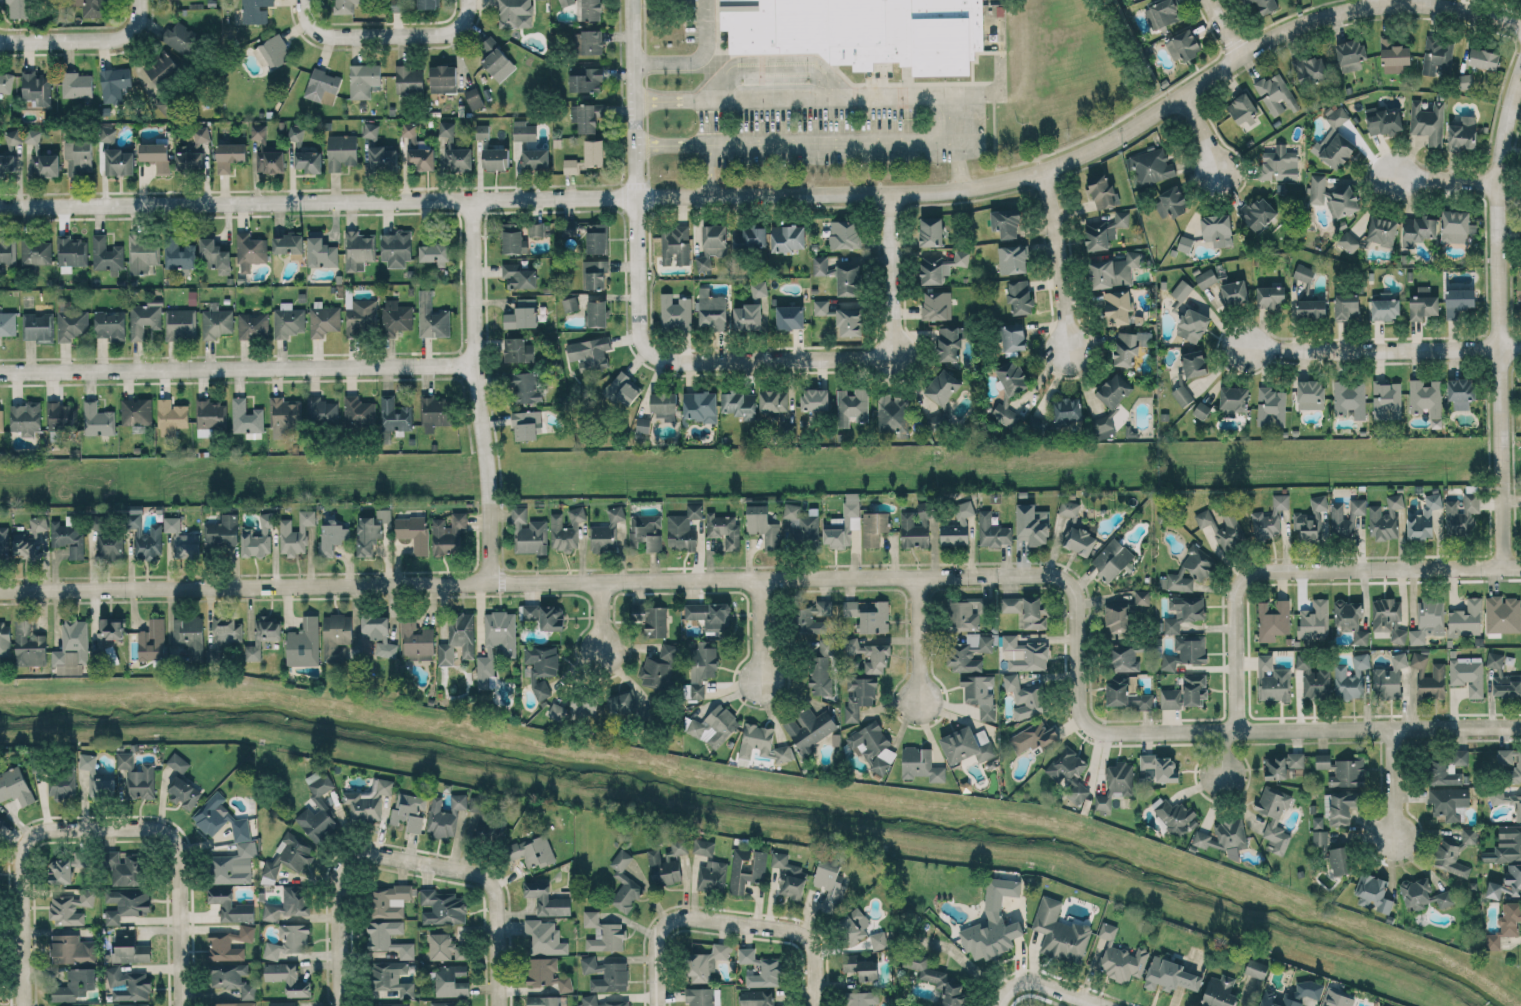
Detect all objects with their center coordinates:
building: (566, 2)
road: (1376, 3)
building: (426, 4)
building: (397, 5)
building: (1264, 5)
building: (345, 6)
building: (19, 8)
building: (93, 8)
building: (591, 10)
building: (255, 11)
building: (514, 13)
building: (1162, 13)
road: (1222, 28)
building: (863, 31)
road: (440, 35)
road: (333, 37)
building: (181, 38)
road: (117, 39)
building: (589, 41)
road: (35, 42)
building: (1183, 45)
building: (272, 52)
building: (1350, 54)
building: (1393, 56)
building: (1437, 56)
building: (1483, 58)
road: (697, 59)
building: (497, 61)
building: (157, 70)
building: (1311, 71)
building: (443, 78)
building: (408, 79)
building: (585, 79)
building: (363, 80)
building: (1466, 81)
building: (6, 82)
building: (114, 84)
building: (77, 85)
building: (322, 86)
building: (36, 89)
road: (997, 94)
building: (1276, 94)
building: (473, 97)
road: (861, 97)
road: (777, 98)
road: (671, 99)
building: (586, 116)
building: (1384, 120)
building: (1428, 121)
building: (370, 130)
building: (482, 131)
building: (524, 131)
road: (1207, 133)
building: (1463, 133)
building: (107, 134)
building: (13, 136)
building: (196, 139)
building: (1337, 139)
road: (831, 141)
road: (671, 144)
building: (417, 150)
building: (453, 150)
building: (341, 151)
building: (266, 152)
building: (593, 152)
building: (304, 153)
building: (156, 155)
building: (229, 155)
building: (78, 156)
building: (41, 157)
building: (382, 158)
building: (495, 158)
building: (535, 159)
building: (189, 160)
building: (117, 162)
building: (1279, 163)
building: (6, 164)
building: (570, 166)
building: (1150, 166)
road: (707, 169)
road: (1443, 177)
building: (1102, 191)
road: (785, 194)
building: (1333, 197)
building: (1171, 202)
building: (1258, 213)
building: (1006, 223)
building: (1456, 226)
building: (570, 228)
building: (539, 229)
building: (1217, 229)
building: (1417, 230)
building: (931, 231)
building: (1382, 231)
building: (1105, 232)
building: (844, 234)
building: (513, 238)
building: (596, 238)
building: (749, 238)
building: (788, 238)
building: (1348, 241)
building: (287, 243)
building: (1185, 244)
building: (711, 245)
building: (676, 246)
building: (396, 248)
building: (358, 250)
building: (8, 251)
building: (36, 251)
building: (250, 251)
building: (321, 251)
building: (70, 252)
building: (143, 252)
building: (434, 252)
building: (178, 254)
building: (106, 255)
building: (214, 256)
building: (1012, 259)
road: (1061, 263)
building: (821, 266)
building: (933, 269)
building: (1114, 270)
building: (594, 273)
building: (1304, 273)
building: (519, 276)
road: (894, 276)
building: (1205, 278)
building: (848, 279)
building: (759, 288)
building: (1181, 290)
building: (1235, 292)
building: (1020, 296)
building: (1270, 296)
road: (639, 298)
building: (1459, 301)
building: (568, 303)
building: (1423, 303)
building: (936, 305)
building: (1346, 305)
building: (820, 307)
building: (1117, 307)
building: (1311, 308)
building: (1385, 308)
building: (712, 310)
building: (675, 312)
building: (596, 313)
building: (522, 314)
road: (1498, 315)
building: (361, 316)
building: (397, 316)
building: (790, 316)
building: (431, 317)
building: (748, 317)
building: (144, 319)
building: (288, 320)
building: (324, 320)
building: (216, 321)
building: (850, 321)
building: (8, 323)
building: (72, 323)
building: (180, 323)
building: (109, 324)
building: (253, 325)
building: (1192, 325)
building: (37, 327)
building: (1013, 337)
building: (949, 343)
road: (1381, 347)
building: (1127, 348)
building: (519, 350)
building: (589, 353)
building: (1194, 363)
road: (239, 370)
building: (1012, 376)
building: (942, 386)
building: (524, 387)
building: (624, 388)
road: (481, 389)
building: (1114, 389)
building: (1460, 392)
building: (1310, 394)
building: (1182, 395)
building: (1425, 397)
building: (1350, 398)
building: (814, 399)
building: (1387, 399)
building: (1233, 400)
building: (739, 404)
building: (776, 405)
building: (664, 406)
building: (700, 406)
building: (851, 406)
building: (1271, 406)
building: (1201, 409)
building: (322, 410)
building: (358, 410)
building: (136, 411)
building: (1067, 411)
building: (435, 412)
building: (1005, 413)
building: (892, 414)
building: (1, 415)
building: (57, 415)
building: (394, 415)
building: (283, 416)
building: (171, 417)
building: (209, 417)
building: (246, 417)
building: (25, 418)
building: (98, 419)
building: (526, 425)
building: (643, 425)
building: (1103, 426)
building: (1318, 502)
building: (1471, 502)
building: (1069, 508)
building: (383, 515)
building: (1269, 517)
building: (1346, 517)
building: (1385, 518)
building: (1424, 518)
building: (1457, 519)
building: (802, 523)
building: (843, 523)
building: (172, 524)
building: (1032, 524)
building: (1307, 524)
building: (762, 525)
building: (957, 525)
building: (916, 526)
building: (874, 527)
building: (683, 528)
building: (1221, 528)
building: (566, 529)
building: (723, 529)
building: (221, 531)
building: (413, 531)
building: (645, 531)
building: (992, 531)
building: (608, 532)
building: (295, 533)
building: (529, 533)
building: (448, 534)
building: (68, 535)
building: (367, 535)
building: (258, 537)
building: (332, 538)
building: (32, 539)
building: (4, 540)
building: (107, 540)
building: (1080, 540)
building: (148, 544)
building: (187, 545)
building: (1112, 559)
road: (1299, 564)
building: (1192, 569)
road: (831, 575)
building: (1142, 597)
building: (1011, 604)
building: (969, 612)
building: (1184, 612)
building: (1034, 613)
building: (1502, 614)
building: (544, 615)
building: (709, 615)
building: (869, 615)
road: (603, 616)
building: (815, 617)
building: (1116, 617)
building: (1388, 618)
building: (652, 619)
building: (1466, 619)
building: (1273, 620)
building: (1313, 620)
building: (1350, 620)
building: (1427, 621)
building: (462, 625)
road: (760, 627)
building: (110, 631)
building: (224, 631)
building: (189, 636)
building: (336, 636)
building: (376, 636)
building: (262, 637)
building: (5, 638)
building: (152, 640)
road: (920, 640)
building: (416, 641)
building: (304, 643)
building: (495, 643)
building: (28, 645)
building: (72, 647)
building: (969, 652)
building: (1185, 652)
building: (1023, 653)
building: (869, 655)
building: (1125, 659)
building: (702, 666)
building: (541, 667)
building: (658, 667)
building: (1467, 673)
building: (819, 675)
building: (1389, 677)
building: (1502, 677)
building: (1313, 678)
building: (1350, 678)
building: (1429, 678)
building: (1272, 680)
building: (1194, 689)
building: (1127, 692)
building: (980, 694)
building: (859, 695)
building: (1025, 696)
building: (1170, 698)
building: (623, 702)
building: (584, 705)
building: (557, 711)
building: (715, 726)
building: (810, 729)
building: (1033, 737)
building: (761, 743)
building: (874, 745)
building: (965, 745)
road: (1218, 752)
building: (1296, 759)
building: (1322, 760)
building: (1511, 762)
building: (178, 763)
building: (921, 764)
building: (1160, 767)
building: (1275, 767)
building: (1447, 768)
building: (1348, 773)
building: (137, 776)
building: (97, 779)
building: (61, 783)
road: (1392, 784)
building: (15, 785)
building: (1115, 785)
building: (184, 792)
building: (1506, 800)
building: (318, 801)
building: (368, 801)
building: (1449, 802)
building: (1342, 807)
building: (409, 811)
building: (1174, 815)
building: (444, 816)
building: (1274, 817)
building: (486, 820)
building: (1469, 836)
building: (1224, 837)
building: (1319, 837)
building: (1506, 844)
building: (704, 847)
building: (532, 851)
building: (289, 856)
building: (1449, 857)
building: (82, 860)
building: (1339, 860)
building: (666, 863)
building: (759, 866)
building: (127, 868)
building: (60, 871)
building: (712, 875)
building: (788, 875)
road: (19, 876)
road: (184, 881)
building: (622, 882)
building: (1506, 883)
building: (829, 884)
building: (1373, 892)
building: (1425, 894)
road: (346, 895)
building: (546, 898)
building: (389, 901)
building: (127, 904)
building: (287, 904)
road: (498, 904)
building: (230, 905)
building: (442, 907)
building: (71, 908)
building: (993, 922)
building: (854, 924)
building: (1505, 924)
road: (663, 928)
building: (1108, 930)
building: (1059, 932)
building: (603, 933)
road: (808, 936)
building: (388, 937)
building: (544, 937)
building: (288, 940)
building: (878, 940)
building: (229, 943)
building: (445, 947)
building: (72, 949)
building: (130, 950)
building: (706, 962)
building: (1122, 962)
building: (861, 967)
building: (761, 968)
building: (1256, 969)
building: (546, 973)
building: (606, 974)
building: (1170, 975)
building: (233, 978)
building: (287, 978)
building: (391, 980)
building: (451, 980)
road: (1047, 983)
building: (74, 984)
building: (128, 984)
building: (1220, 991)
building: (1295, 995)
building: (702, 996)
building: (589, 997)
building: (757, 997)
building: (1337, 998)
building: (547, 1000)
building: (234, 1003)
building: (443, 1003)
building: (282, 1004)
building: (62, 1005)
building: (117, 1005)
building: (393, 1005)

